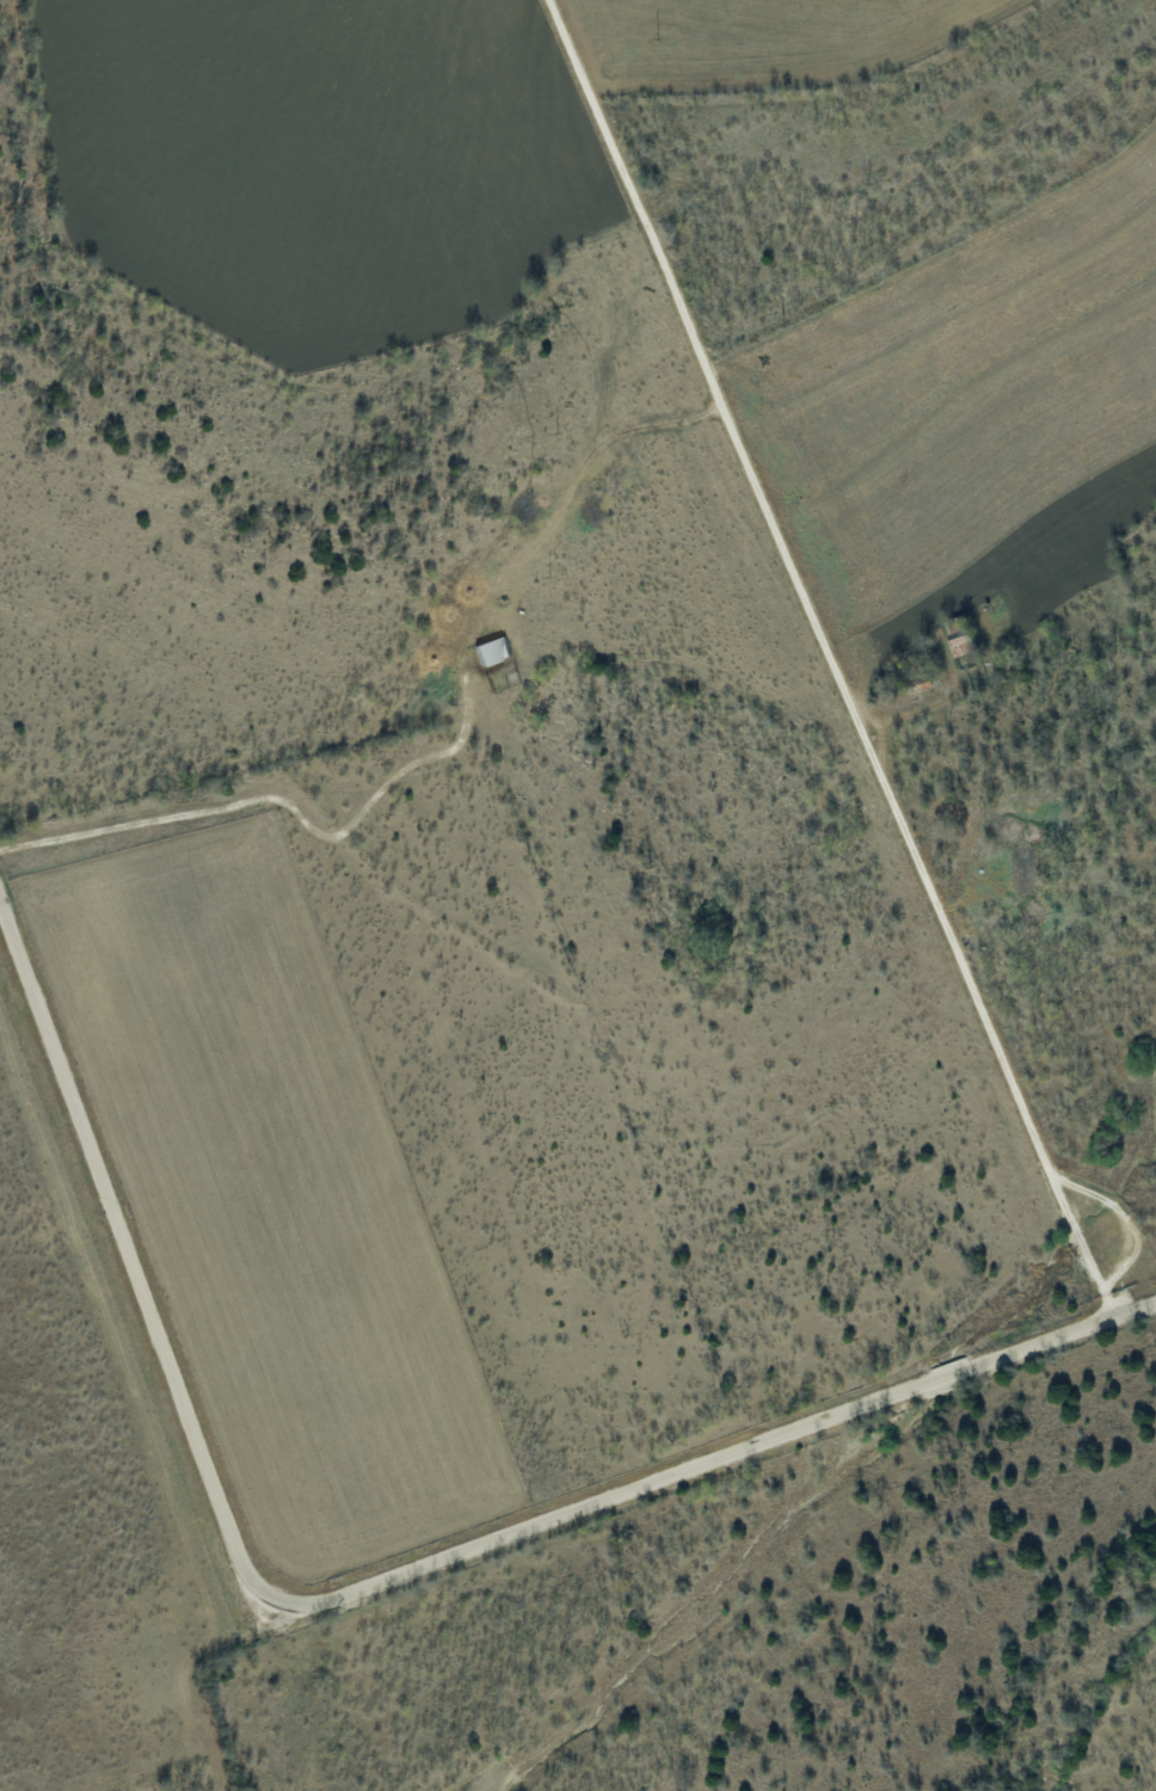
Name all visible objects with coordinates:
building: (496, 650)
road: (826, 660)
road: (367, 1593)

